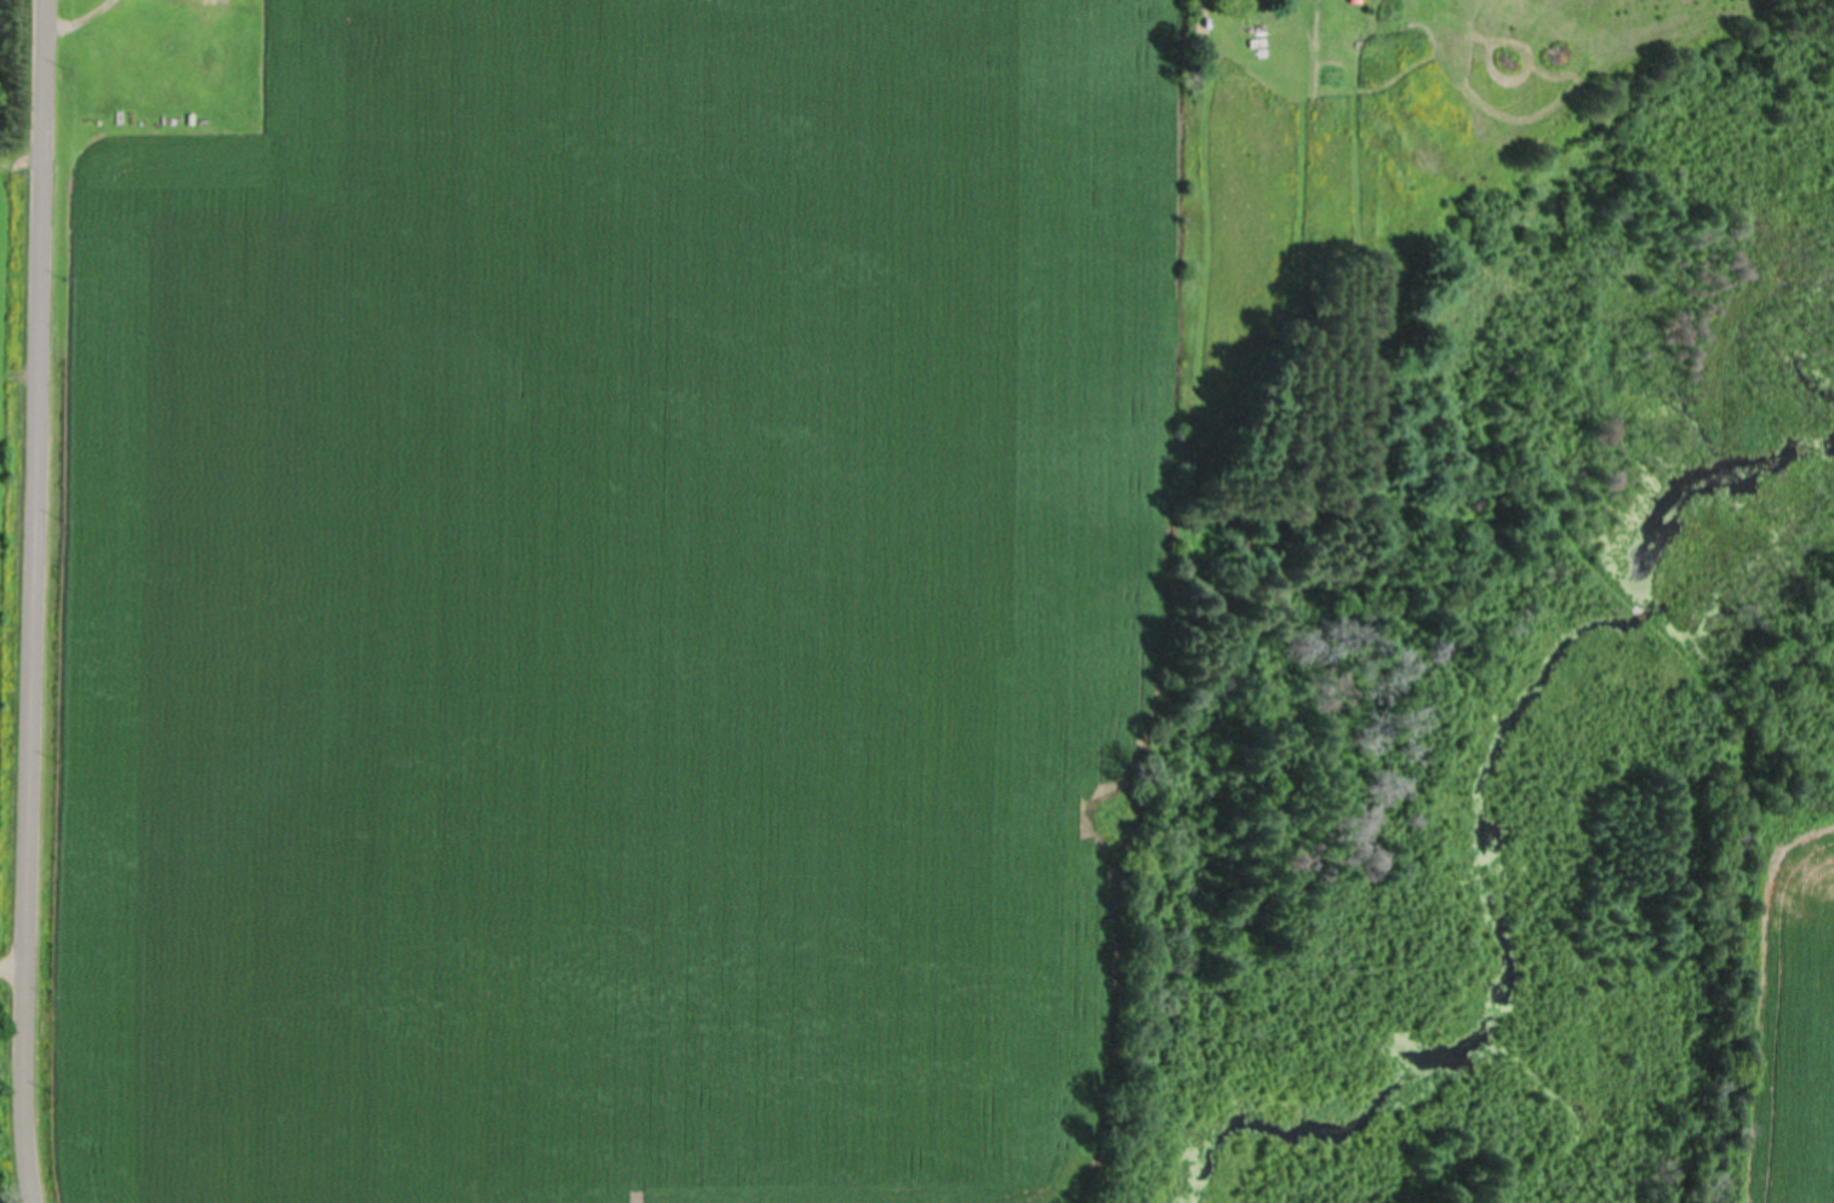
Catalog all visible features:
road: (30, 601)
road: (11, 970)

